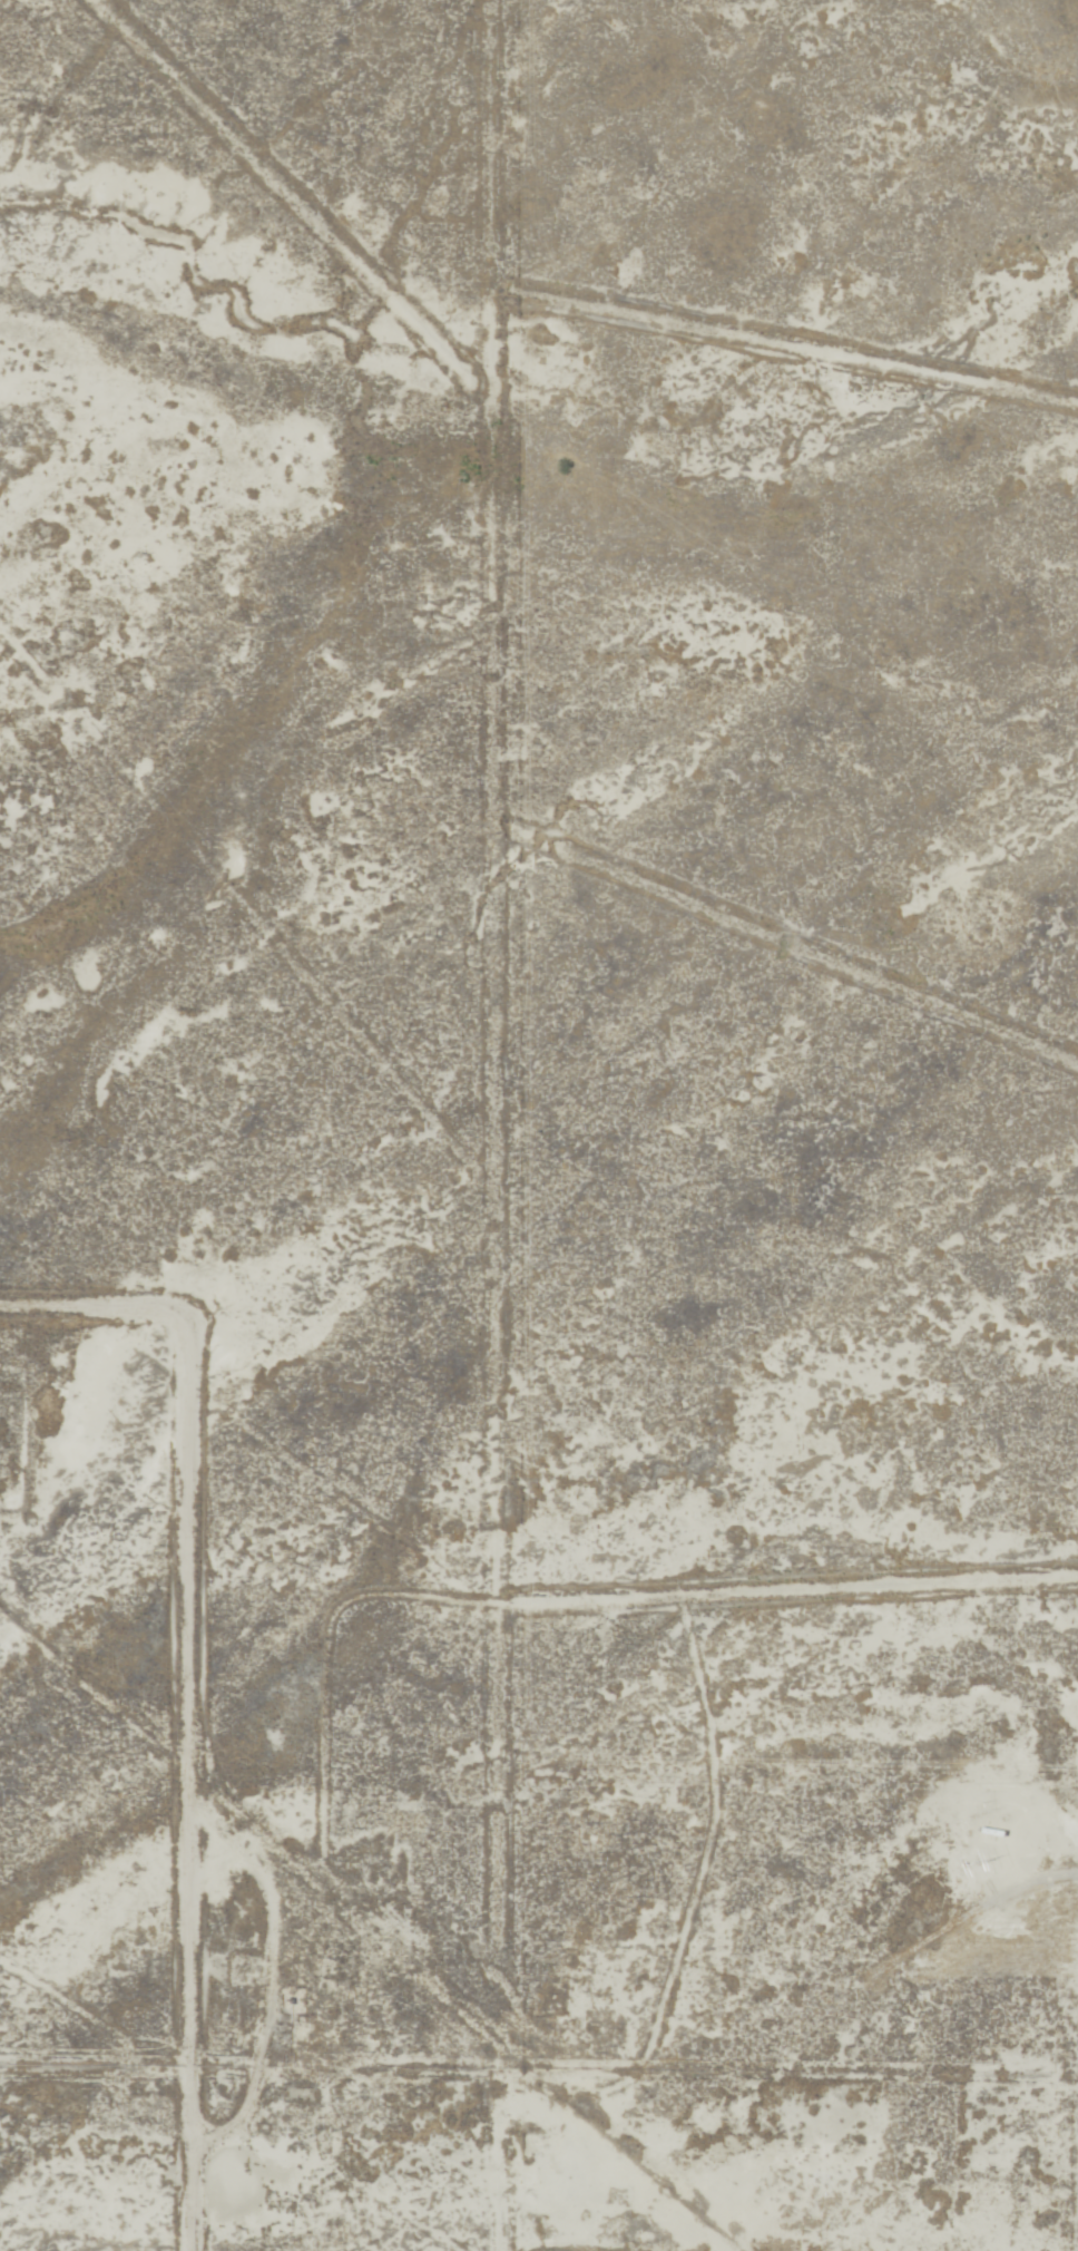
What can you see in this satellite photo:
road: (184, 1697)
road: (267, 1976)

